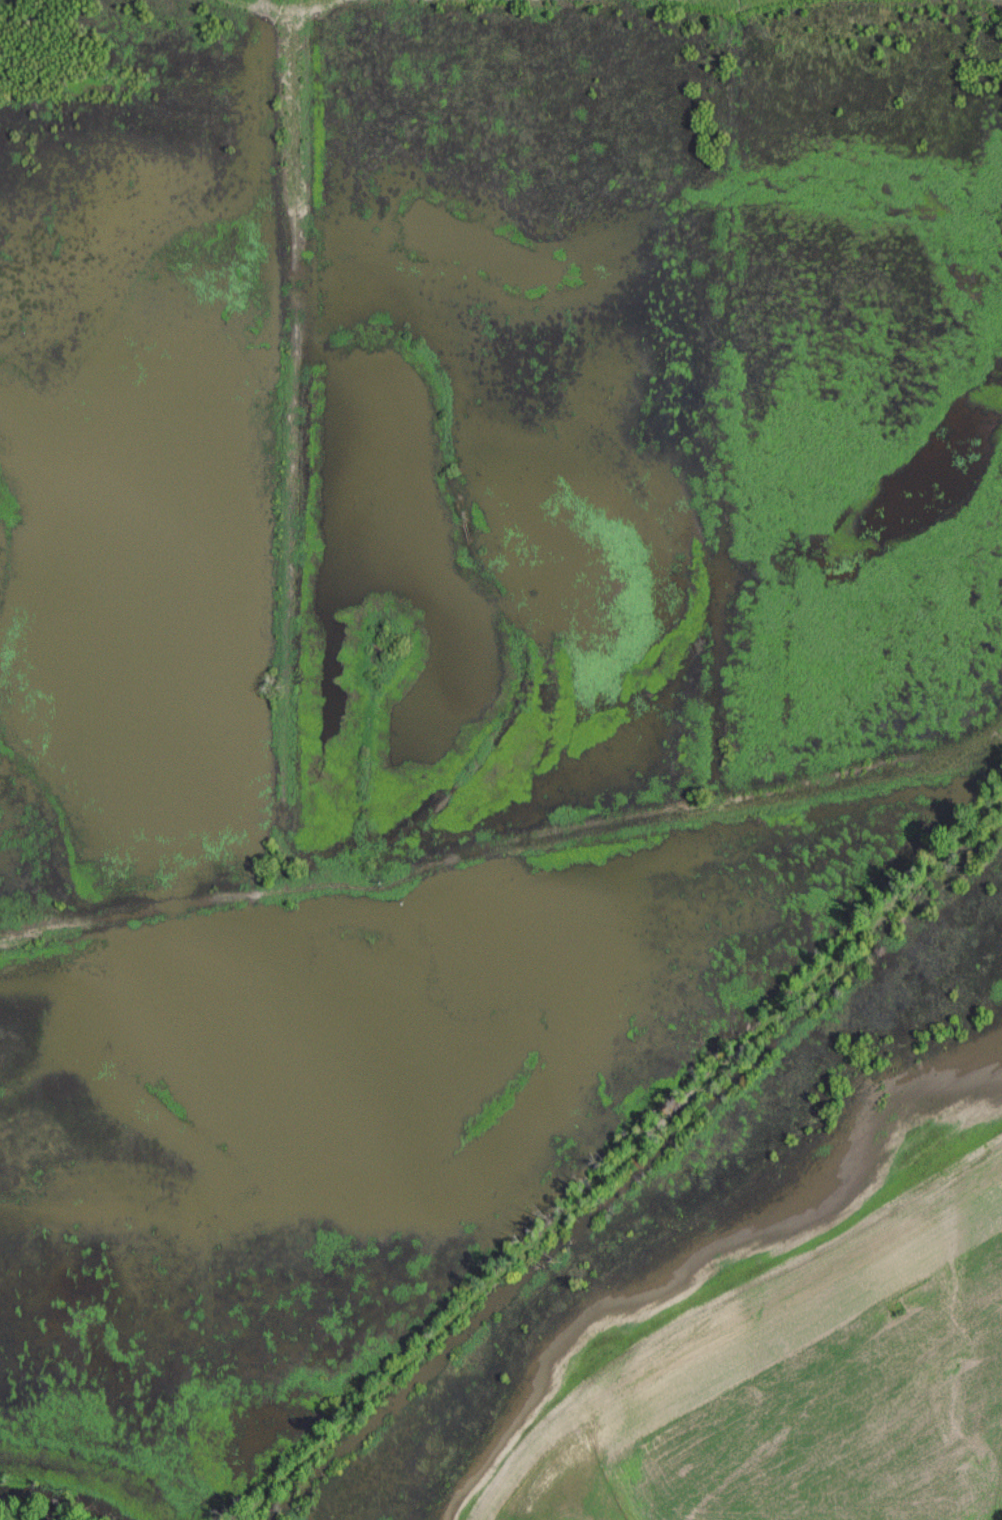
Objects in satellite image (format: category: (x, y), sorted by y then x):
road: (730, 3)
road: (284, 793)
road: (182, 910)

